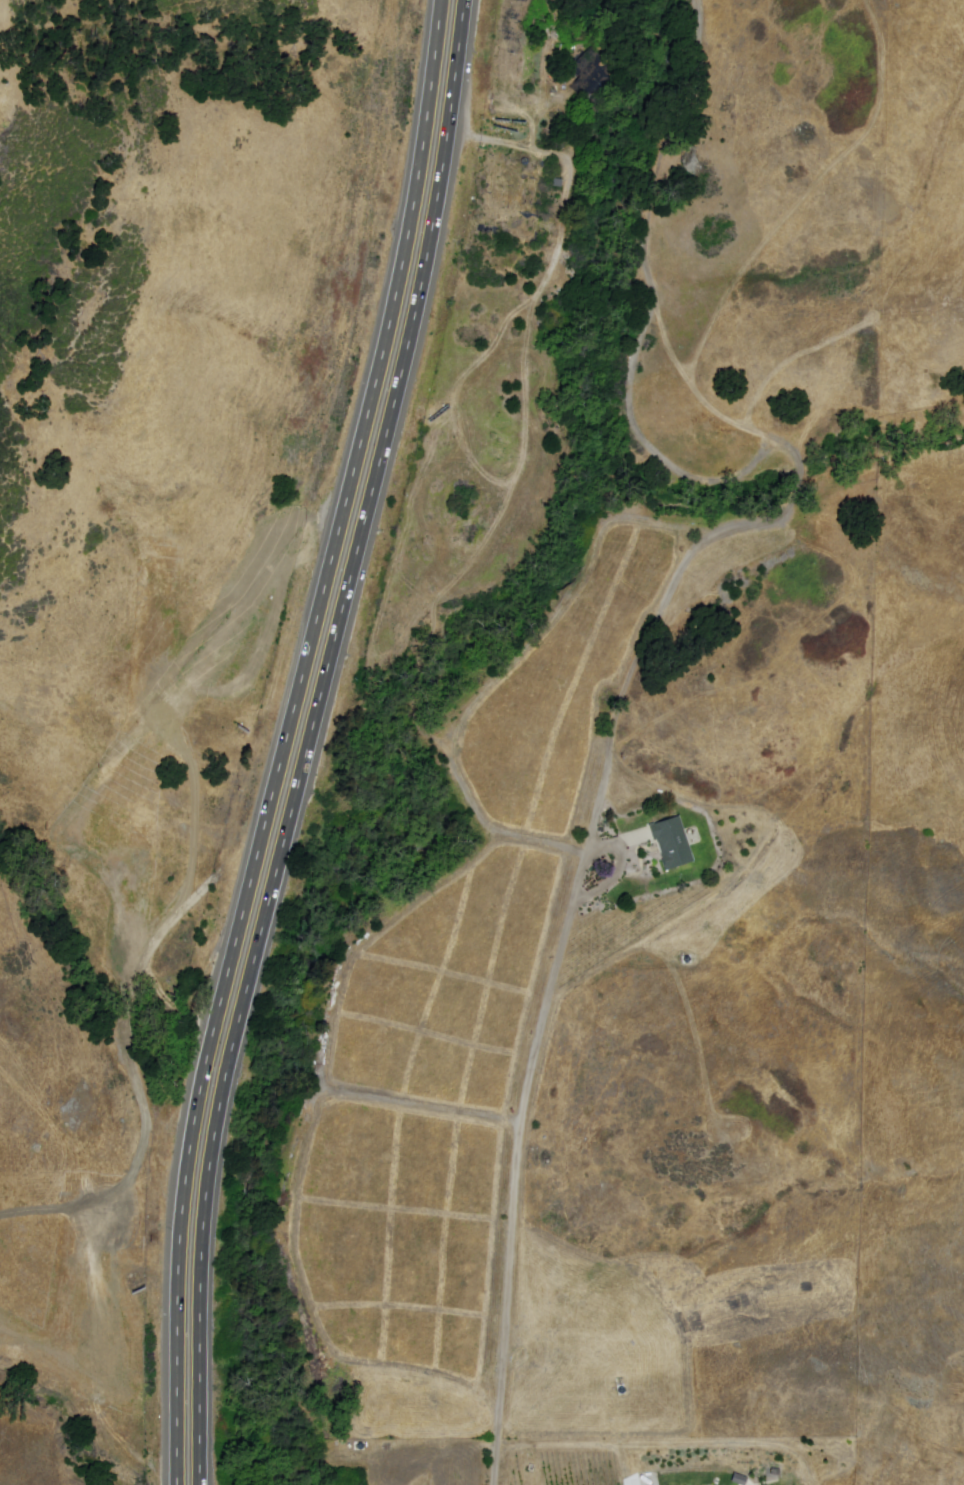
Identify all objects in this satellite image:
building: (593, 74)
road: (515, 142)
road: (288, 739)
road: (310, 740)
building: (673, 842)
building: (739, 1478)

